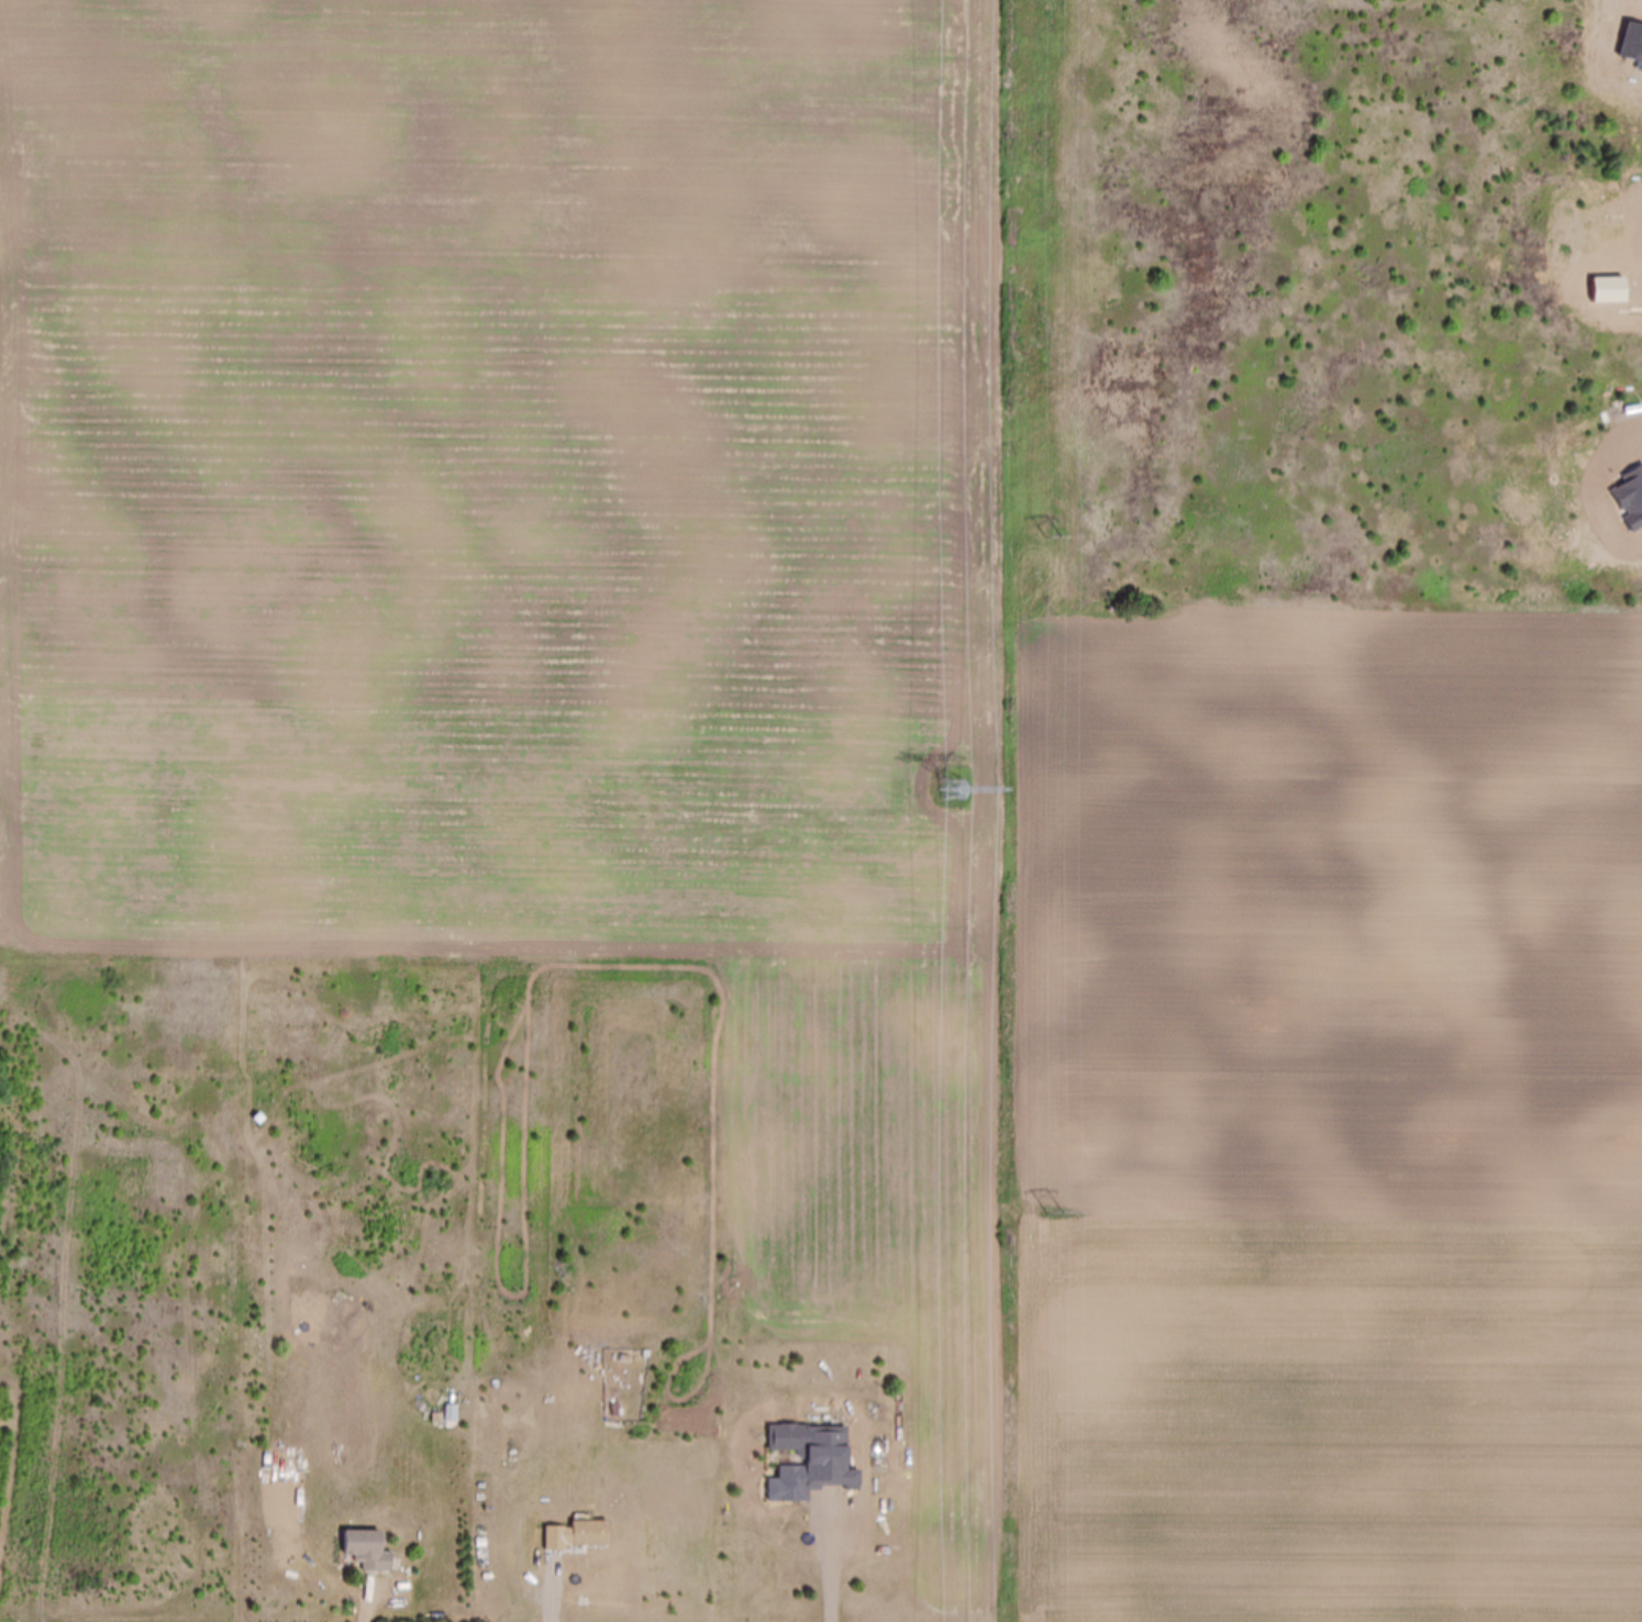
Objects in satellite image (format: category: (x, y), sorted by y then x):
power tower: (1057, 540)
power tower: (950, 782)
power tower: (1057, 1214)
building: (368, 1552)
road: (828, 1577)

